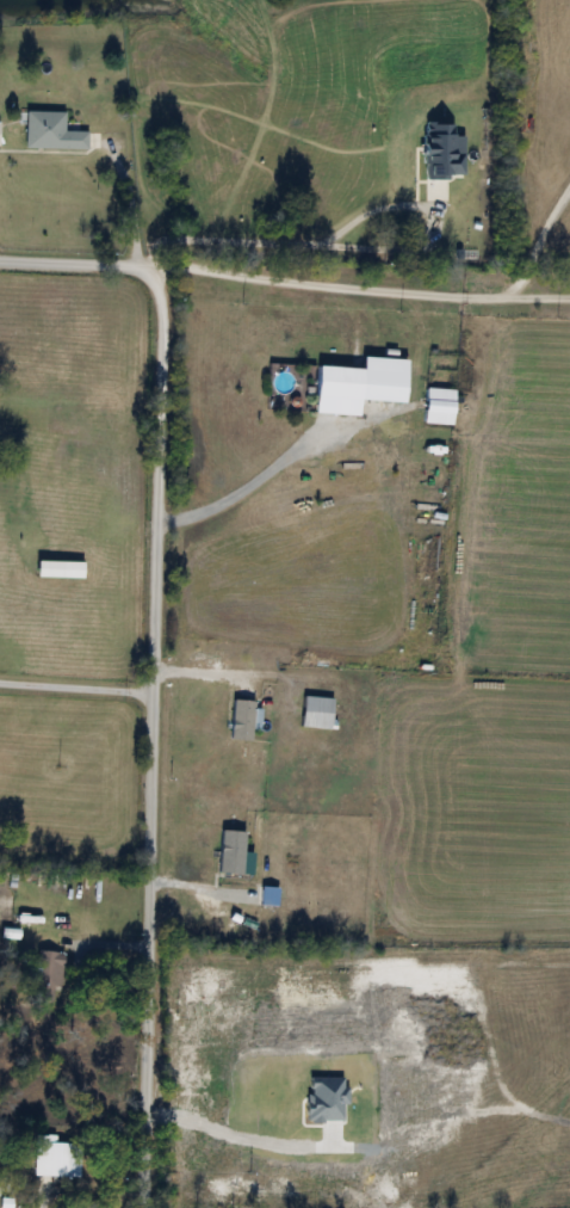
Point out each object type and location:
building: (50, 132)
road: (128, 204)
road: (348, 244)
road: (357, 290)
building: (337, 392)
building: (438, 407)
road: (269, 472)
building: (58, 571)
road: (153, 665)
road: (215, 670)
road: (75, 685)
building: (45, 976)
building: (55, 1159)

